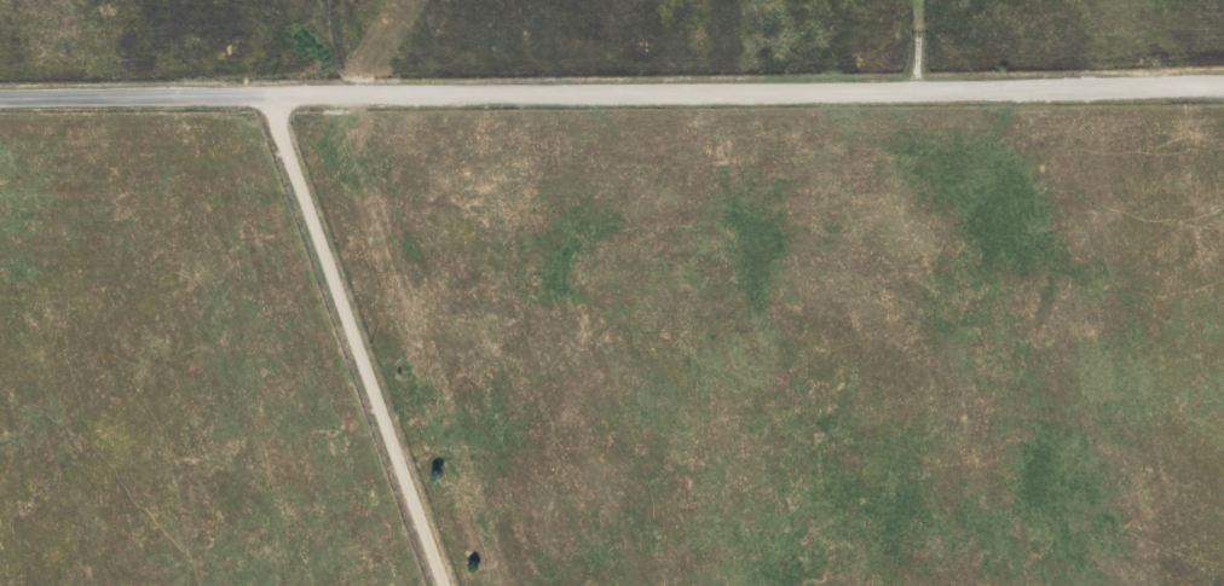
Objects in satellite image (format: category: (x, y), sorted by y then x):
road: (612, 89)
road: (354, 340)

